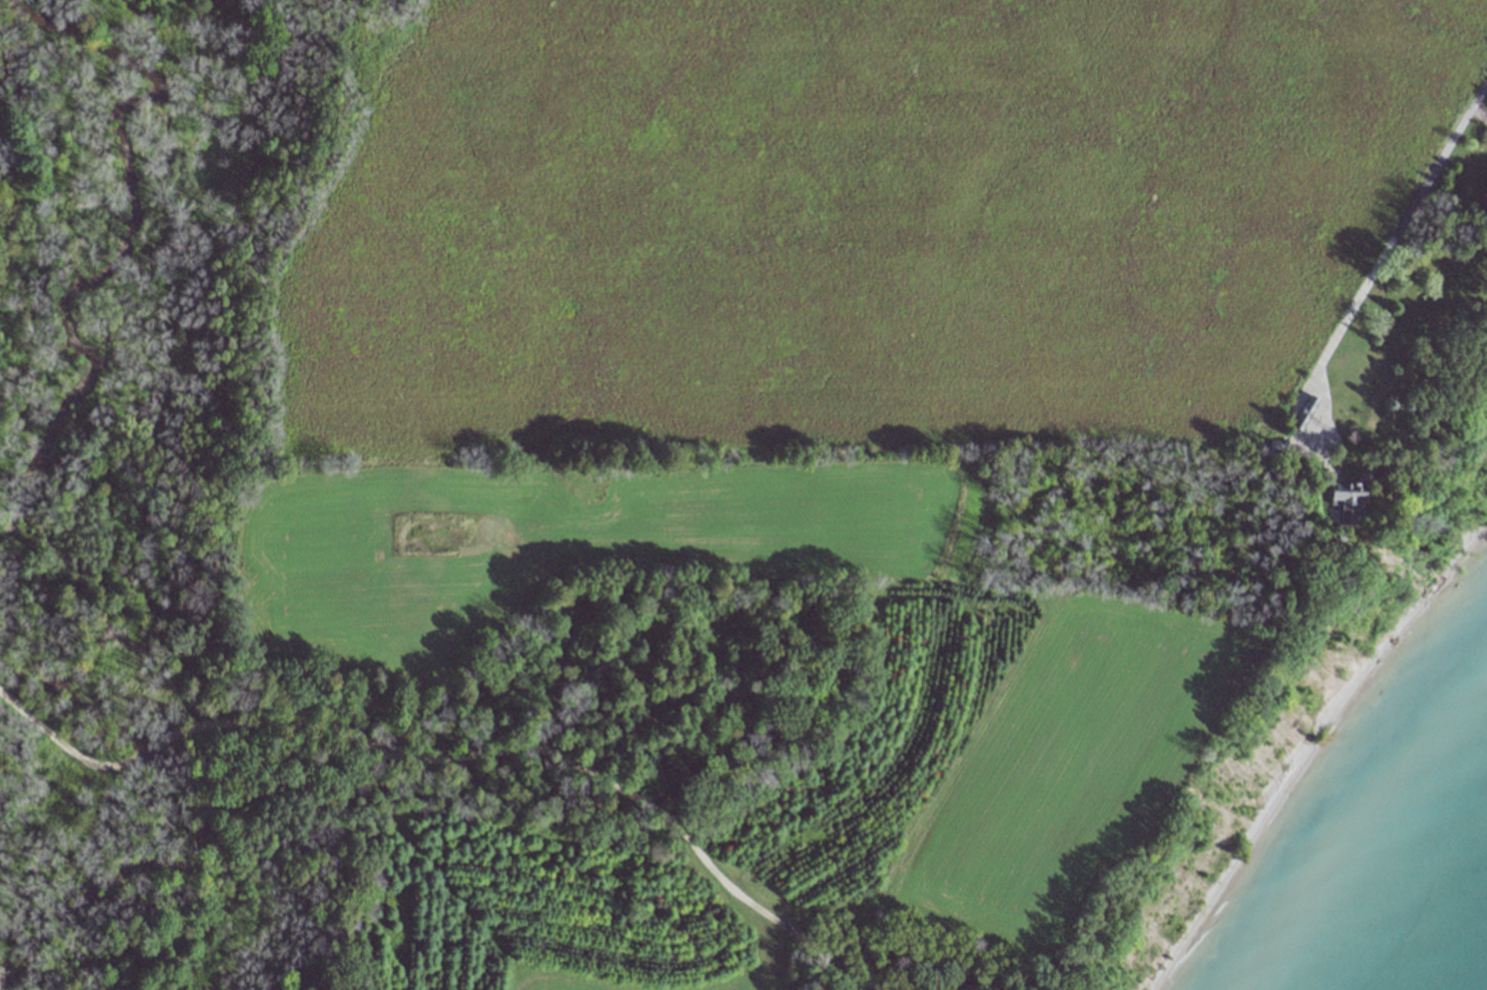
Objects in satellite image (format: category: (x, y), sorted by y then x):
road: (1474, 114)
road: (1392, 231)
road: (61, 742)
road: (143, 749)
road: (443, 756)

